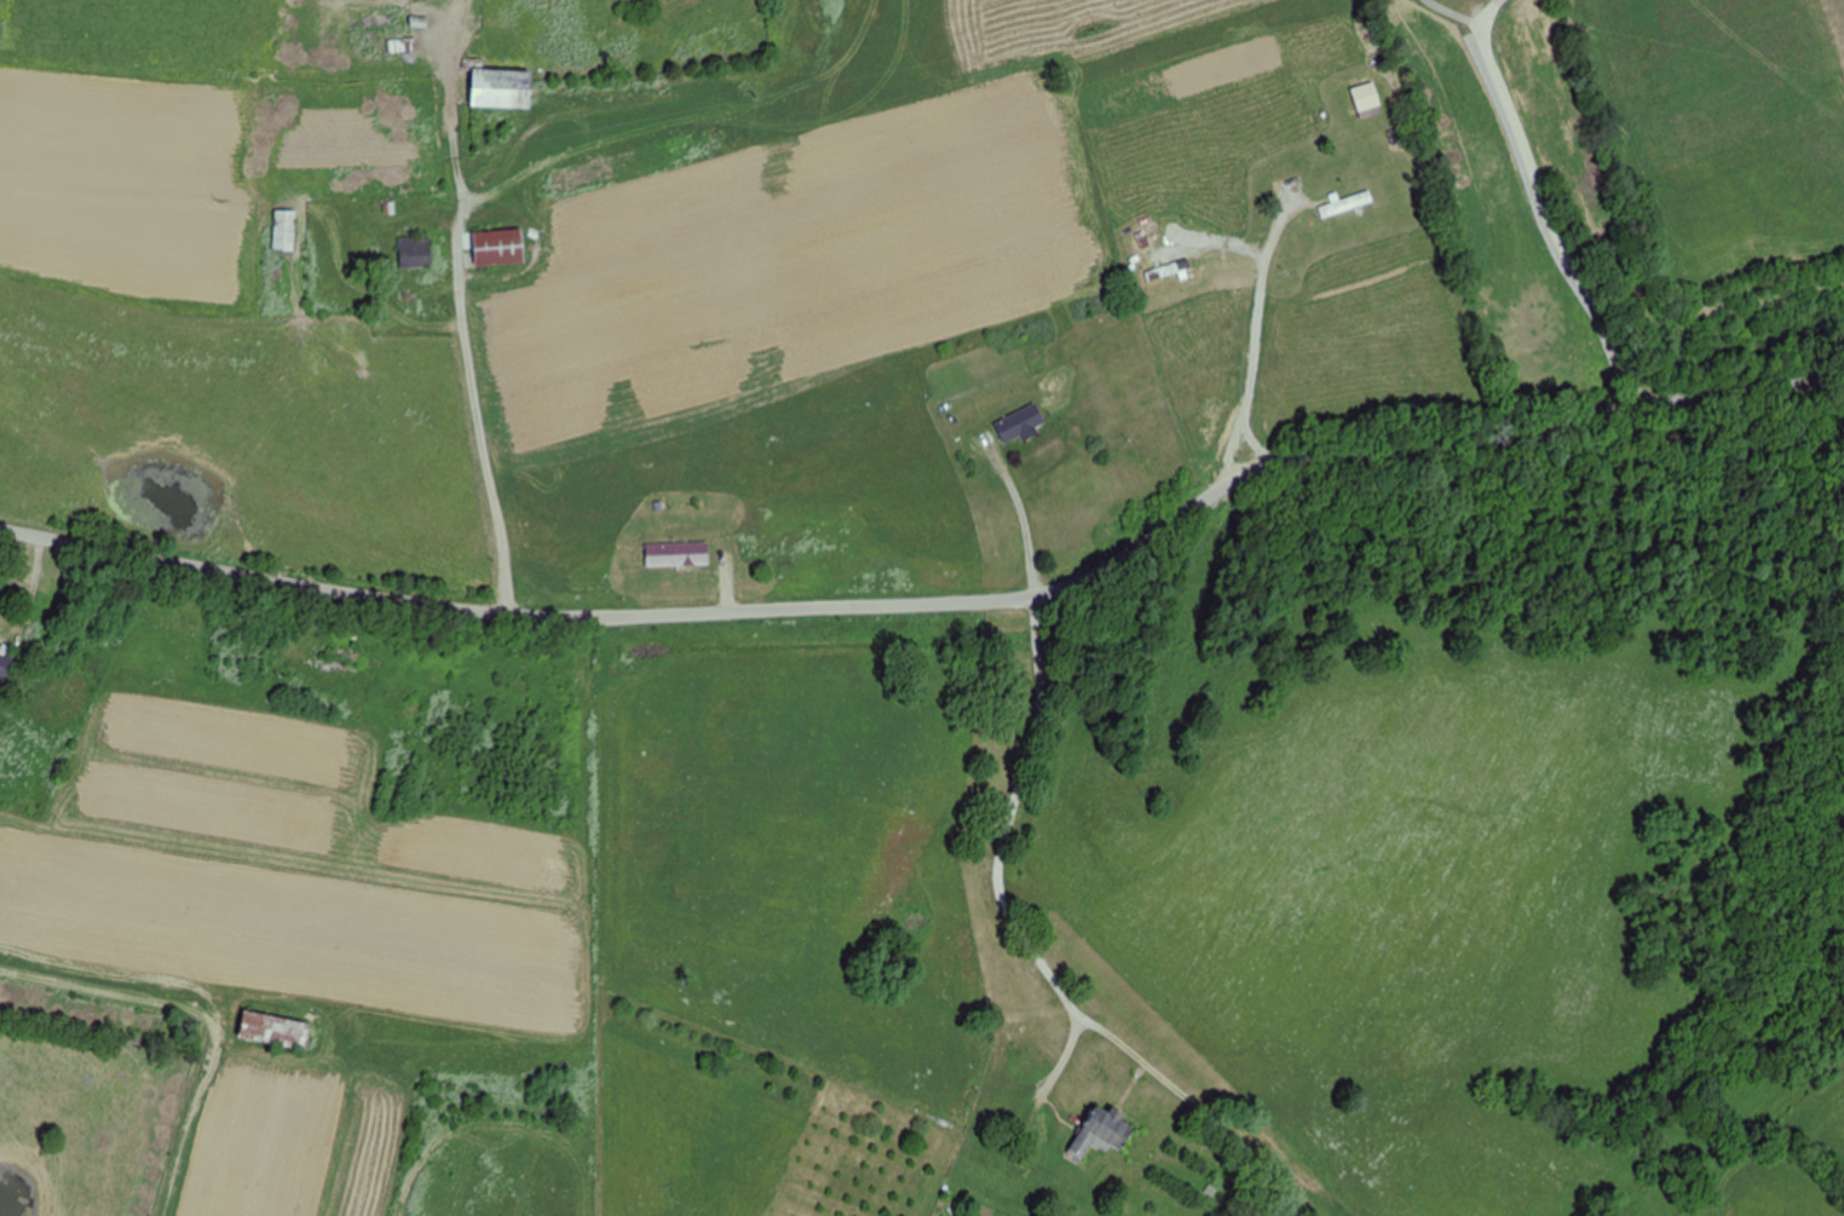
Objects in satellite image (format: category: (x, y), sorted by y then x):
building: (375, 39)
building: (499, 85)
building: (1347, 204)
road: (1545, 207)
building: (284, 231)
road: (1224, 231)
building: (499, 248)
building: (415, 253)
building: (1170, 270)
building: (1021, 425)
road: (603, 456)
building: (678, 554)
road: (940, 605)
building: (4, 657)
building: (341, 661)
road: (1112, 829)
building: (275, 1030)
building: (1102, 1131)

